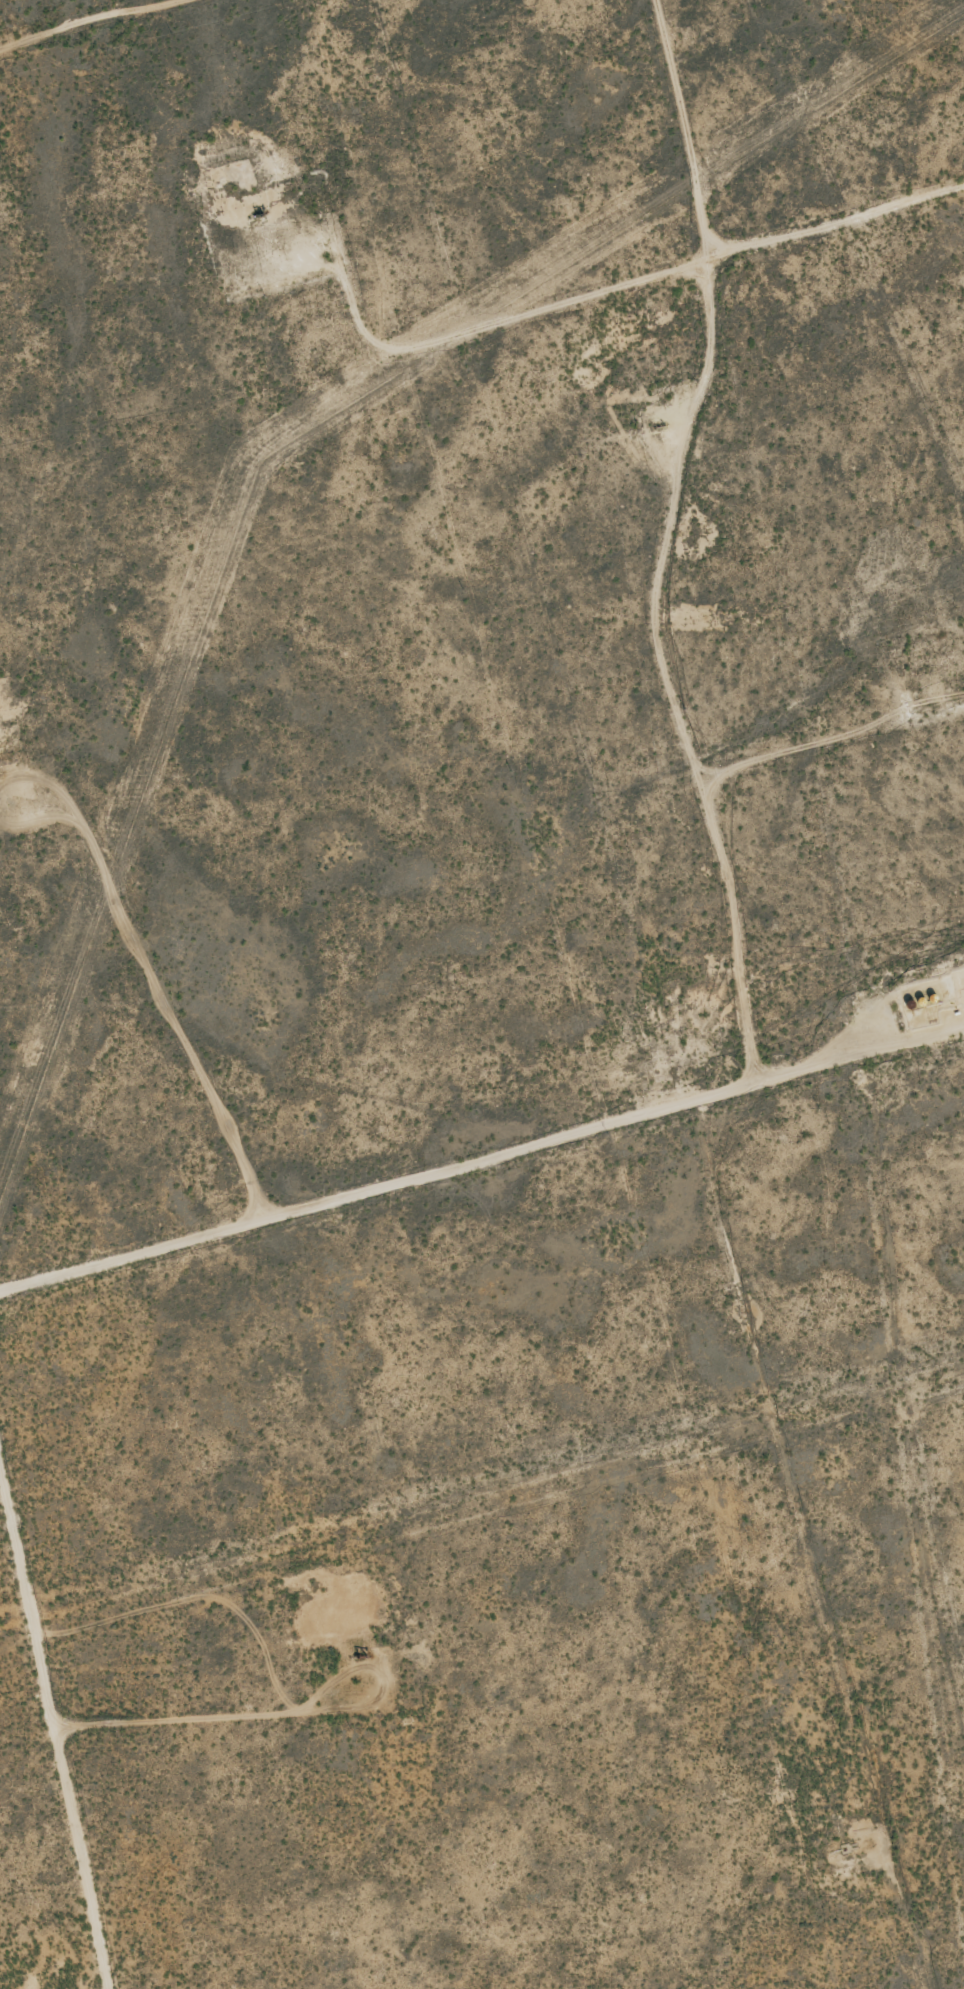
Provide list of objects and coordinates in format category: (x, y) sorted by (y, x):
road: (773, 293)
road: (482, 1229)
road: (51, 1803)
road: (886, 1958)

